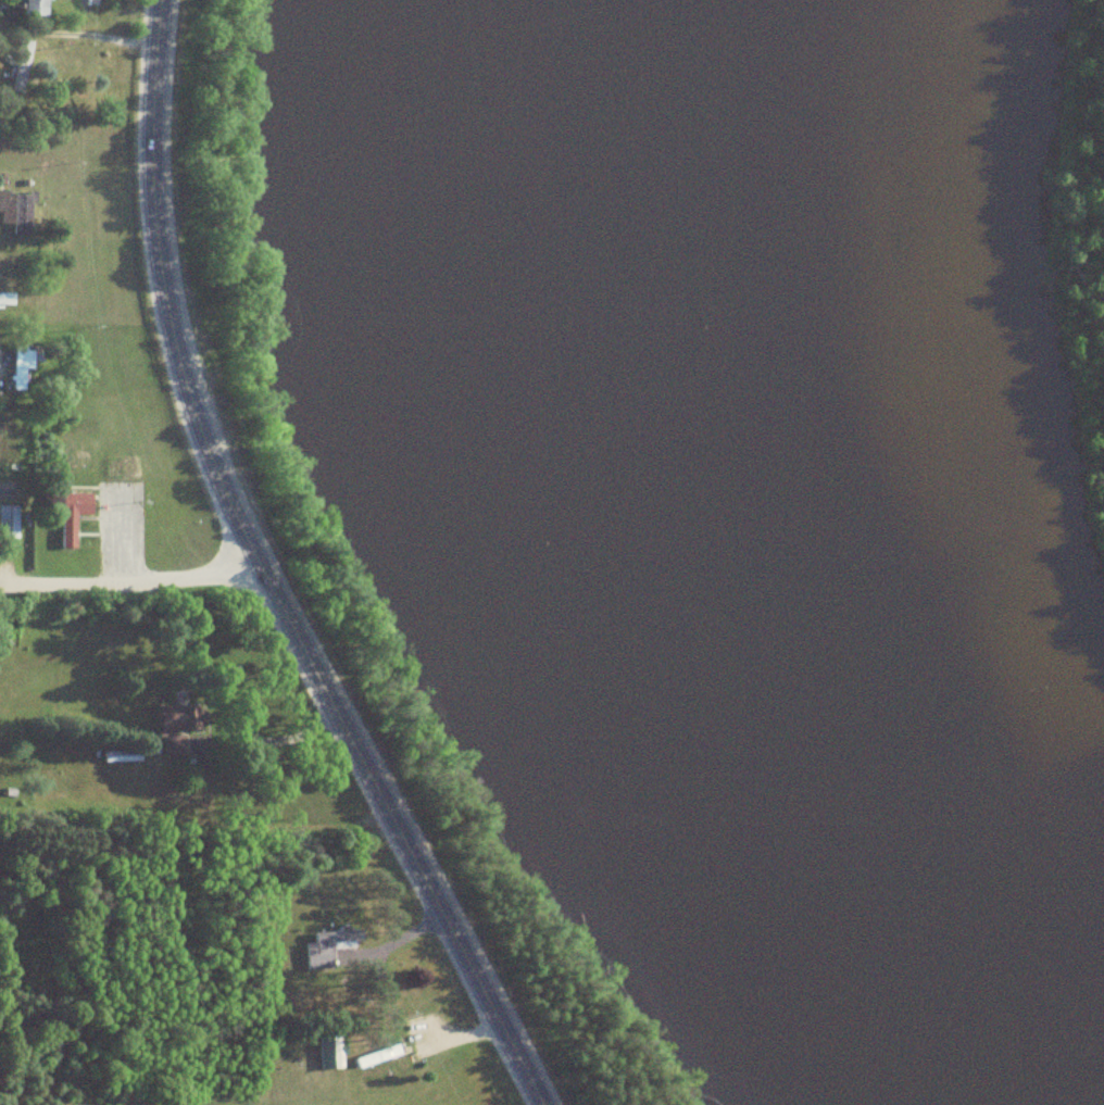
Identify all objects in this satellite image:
building: (35, 8)
building: (22, 65)
building: (15, 209)
building: (7, 298)
building: (24, 368)
building: (72, 516)
building: (9, 522)
river: (679, 568)
road: (262, 577)
road: (129, 580)
building: (179, 717)
building: (173, 744)
building: (122, 756)
building: (103, 776)
building: (63, 779)
road: (273, 813)
building: (329, 947)
building: (327, 1055)

